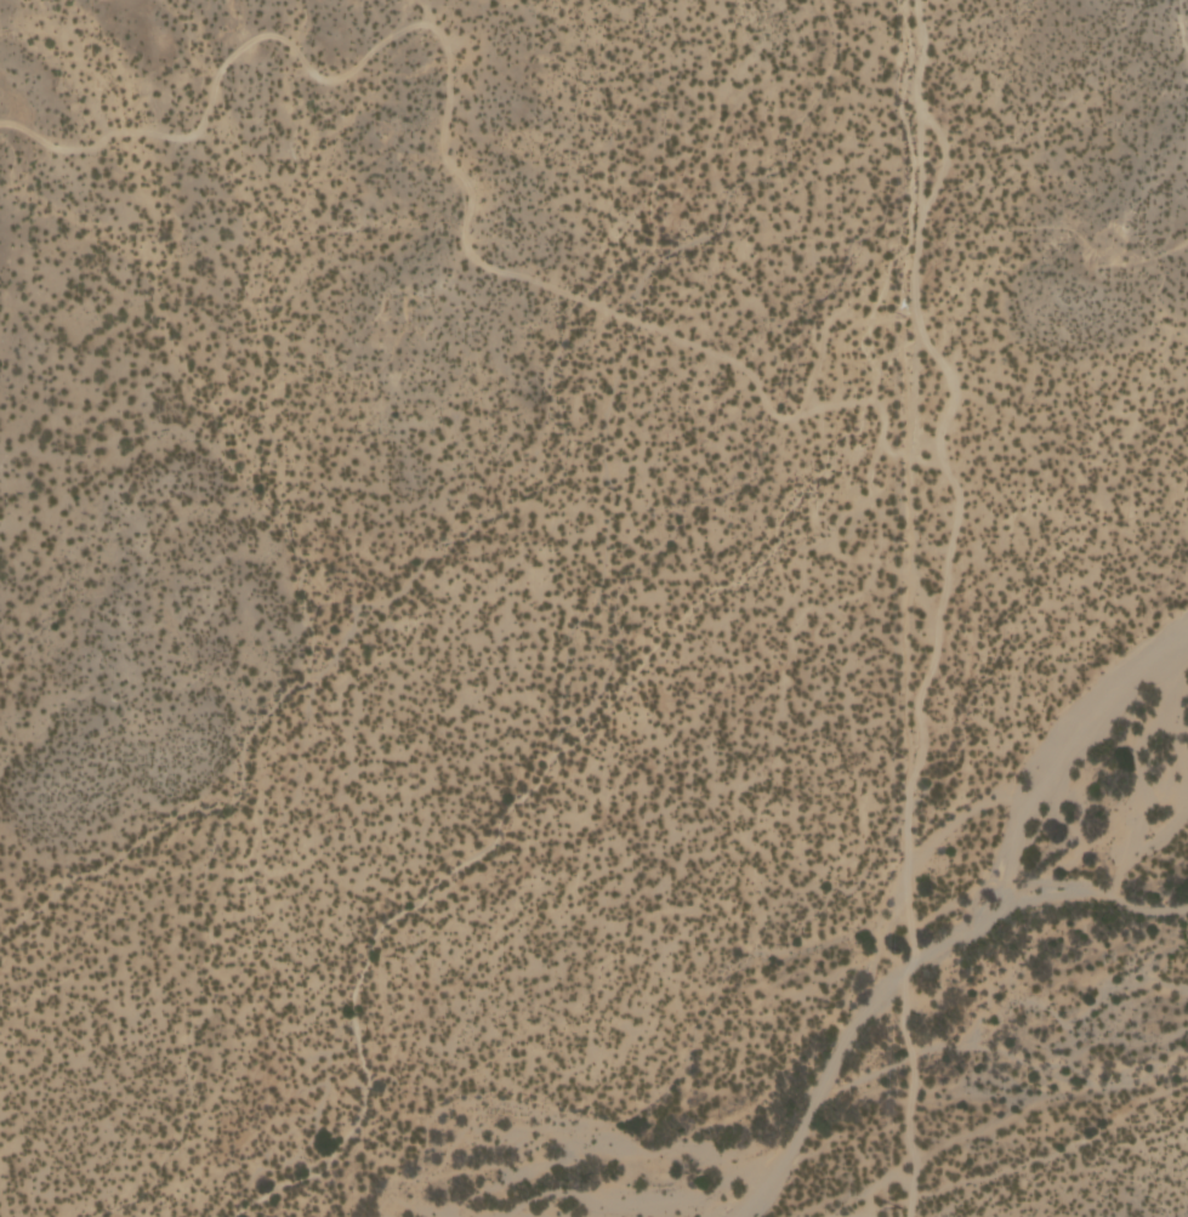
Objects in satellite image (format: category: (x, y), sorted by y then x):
road: (905, 487)
road: (910, 1093)

